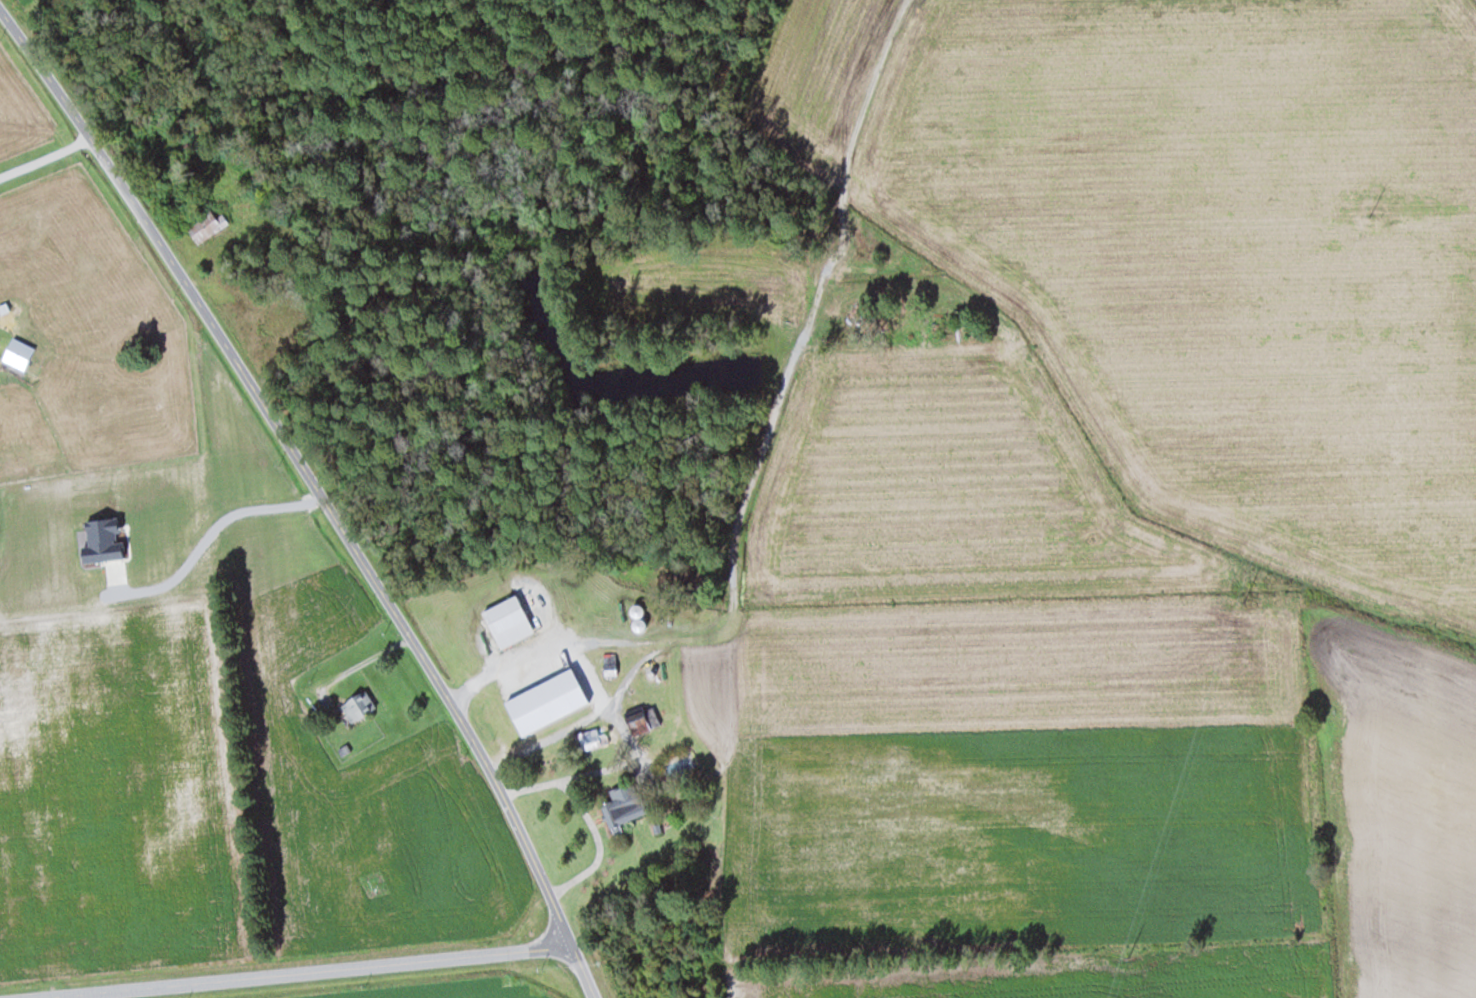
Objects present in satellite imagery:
road: (43, 156)
building: (206, 226)
building: (280, 317)
building: (18, 352)
road: (315, 492)
building: (508, 621)
road: (601, 699)
building: (358, 705)
building: (641, 722)
road: (545, 736)
building: (595, 738)
building: (627, 803)
road: (595, 841)
road: (294, 971)

